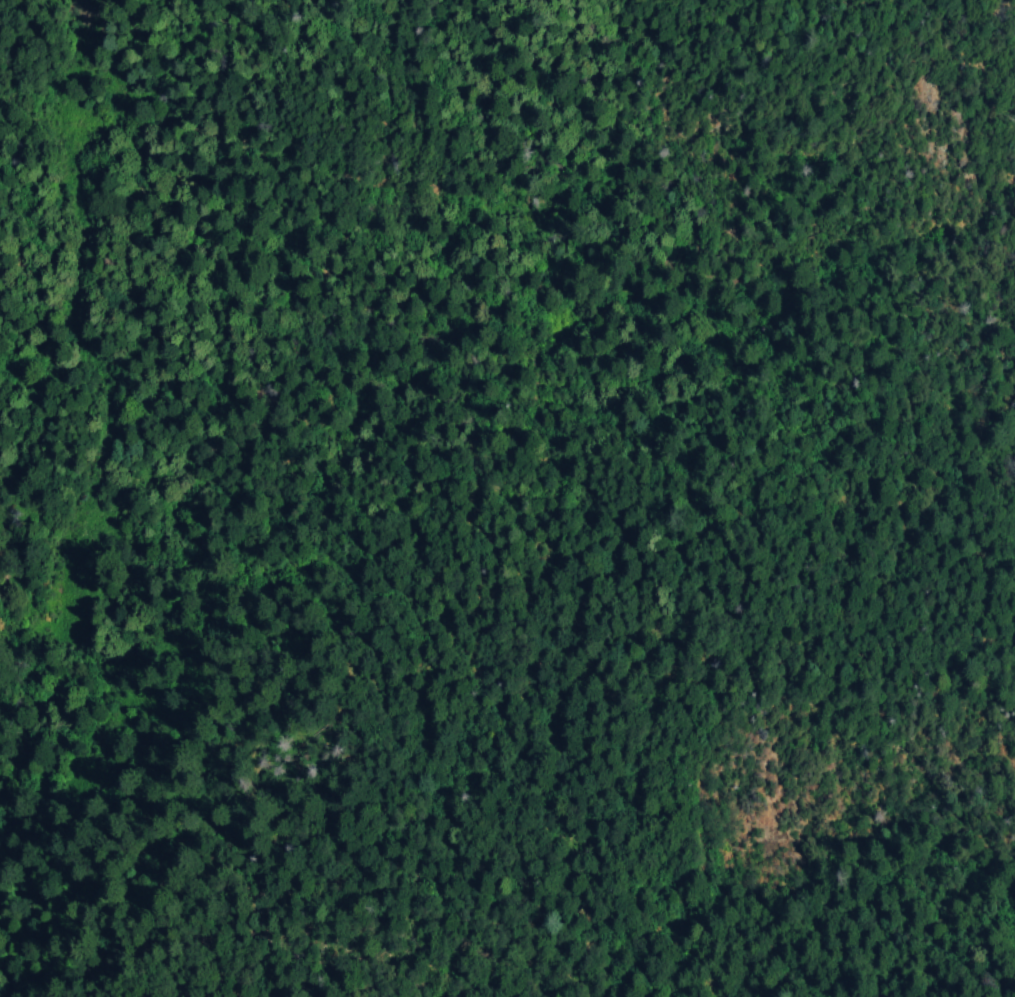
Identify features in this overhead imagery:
road: (22, 37)

